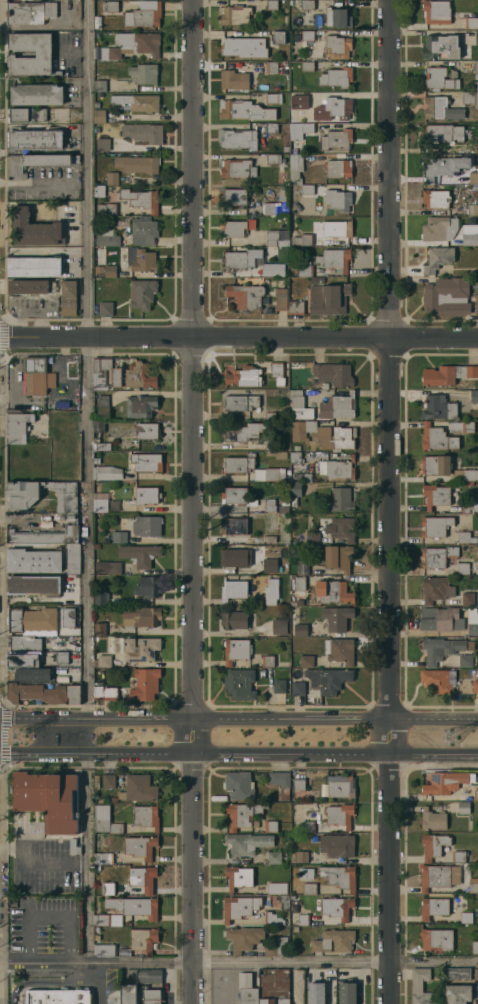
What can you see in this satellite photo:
building: (272, 4)
building: (307, 4)
building: (110, 6)
building: (29, 12)
building: (436, 12)
building: (234, 14)
building: (147, 16)
building: (337, 17)
building: (471, 23)
building: (308, 35)
building: (278, 37)
building: (476, 37)
building: (140, 42)
building: (337, 46)
building: (441, 46)
building: (244, 47)
building: (98, 51)
building: (42, 53)
building: (111, 53)
building: (307, 66)
building: (271, 67)
building: (476, 69)
building: (144, 73)
building: (453, 74)
building: (336, 77)
building: (439, 79)
building: (234, 80)
building: (99, 85)
building: (476, 86)
building: (36, 94)
building: (307, 97)
building: (273, 98)
building: (470, 98)
building: (299, 100)
building: (138, 102)
building: (441, 108)
building: (333, 109)
building: (246, 110)
building: (27, 114)
building: (99, 116)
building: (278, 128)
building: (300, 130)
building: (143, 132)
building: (443, 133)
building: (477, 135)
building: (238, 138)
building: (36, 139)
building: (336, 139)
building: (99, 147)
building: (476, 148)
building: (273, 158)
building: (36, 163)
building: (138, 164)
building: (444, 166)
building: (237, 168)
building: (296, 168)
building: (338, 168)
building: (473, 177)
building: (112, 178)
building: (447, 179)
building: (307, 189)
building: (99, 190)
building: (234, 197)
building: (436, 198)
building: (140, 199)
building: (338, 199)
building: (297, 206)
building: (107, 209)
building: (270, 209)
building: (472, 209)
building: (233, 228)
building: (439, 228)
building: (33, 229)
building: (145, 229)
building: (337, 232)
building: (470, 234)
building: (272, 237)
building: (107, 238)
building: (302, 240)
building: (286, 242)
building: (122, 249)
building: (437, 258)
building: (140, 259)
building: (334, 259)
building: (237, 260)
building: (34, 266)
building: (306, 268)
building: (106, 270)
building: (269, 270)
building: (31, 287)
building: (142, 293)
building: (246, 296)
building: (446, 297)
building: (68, 298)
building: (281, 299)
building: (329, 299)
building: (476, 305)
building: (296, 307)
building: (106, 309)
road: (238, 340)
building: (278, 373)
building: (124, 374)
building: (333, 374)
building: (447, 374)
building: (37, 376)
building: (245, 376)
building: (474, 396)
building: (102, 400)
building: (240, 403)
building: (141, 405)
building: (300, 406)
building: (338, 406)
building: (438, 408)
building: (103, 413)
building: (270, 415)
building: (19, 423)
building: (461, 427)
building: (302, 429)
building: (147, 431)
building: (245, 432)
building: (97, 434)
building: (336, 438)
building: (437, 438)
building: (15, 439)
building: (270, 444)
building: (297, 448)
building: (277, 454)
building: (96, 460)
building: (146, 462)
building: (238, 464)
building: (435, 465)
building: (296, 467)
building: (337, 469)
building: (107, 473)
building: (269, 474)
building: (464, 475)
building: (287, 478)
road: (89, 480)
building: (296, 489)
building: (147, 495)
building: (235, 496)
building: (436, 496)
building: (23, 497)
building: (341, 499)
building: (293, 500)
road: (388, 501)
building: (101, 502)
road: (191, 502)
building: (286, 502)
building: (116, 505)
building: (270, 505)
building: (467, 507)
building: (283, 509)
building: (147, 525)
building: (235, 526)
building: (435, 526)
building: (342, 528)
building: (46, 535)
building: (120, 537)
building: (313, 537)
building: (465, 537)
building: (270, 539)
building: (97, 546)
building: (304, 546)
building: (140, 554)
building: (438, 556)
building: (235, 557)
building: (338, 557)
building: (73, 558)
building: (35, 561)
building: (109, 567)
building: (302, 567)
building: (463, 568)
building: (270, 570)
building: (99, 578)
building: (300, 583)
building: (33, 586)
building: (149, 586)
building: (435, 589)
building: (234, 590)
building: (337, 593)
building: (101, 595)
building: (469, 598)
building: (272, 601)
building: (143, 616)
building: (68, 617)
building: (336, 618)
building: (32, 619)
building: (234, 620)
building: (441, 620)
building: (279, 626)
building: (100, 629)
building: (473, 629)
building: (300, 630)
building: (23, 643)
building: (141, 648)
building: (443, 648)
building: (236, 650)
building: (339, 650)
building: (62, 657)
building: (23, 658)
building: (103, 660)
building: (465, 660)
building: (268, 661)
building: (307, 661)
building: (32, 674)
building: (328, 679)
building: (438, 680)
building: (145, 684)
building: (240, 684)
building: (280, 686)
building: (475, 686)
building: (298, 688)
building: (34, 692)
building: (73, 693)
building: (105, 693)
road: (238, 717)
power tower: (19, 736)
power tower: (452, 736)
road: (238, 756)
building: (96, 780)
building: (109, 781)
building: (281, 783)
building: (299, 784)
building: (440, 784)
building: (239, 785)
building: (341, 786)
building: (138, 788)
building: (96, 795)
building: (476, 795)
building: (48, 799)
building: (113, 799)
building: (102, 800)
building: (464, 807)
building: (242, 815)
building: (340, 815)
building: (147, 816)
building: (433, 819)
building: (105, 821)
building: (271, 826)
building: (309, 826)
building: (246, 843)
building: (337, 845)
building: (433, 845)
building: (74, 847)
building: (140, 847)
building: (458, 856)
building: (274, 857)
building: (293, 857)
building: (301, 857)
building: (103, 858)
road: (43, 861)
building: (97, 866)
building: (339, 876)
building: (239, 877)
building: (435, 877)
building: (143, 878)
building: (108, 888)
building: (277, 888)
building: (309, 888)
building: (473, 888)
building: (284, 901)
building: (134, 906)
building: (240, 907)
building: (337, 907)
building: (434, 907)
building: (466, 917)
road: (49, 918)
building: (272, 919)
building: (304, 919)
building: (108, 920)
building: (295, 928)
building: (243, 938)
building: (437, 939)
building: (144, 940)
building: (334, 941)
building: (277, 947)
building: (475, 947)
building: (104, 950)
road: (48, 960)
road: (287, 961)
building: (458, 974)
building: (476, 974)
building: (149, 976)
road: (47, 980)
road: (98, 982)
building: (282, 986)
building: (417, 986)
building: (248, 989)
building: (267, 989)
building: (316, 993)
building: (347, 993)
building: (129, 994)
building: (458, 994)
building: (58, 996)
building: (477, 998)
building: (152, 1002)

